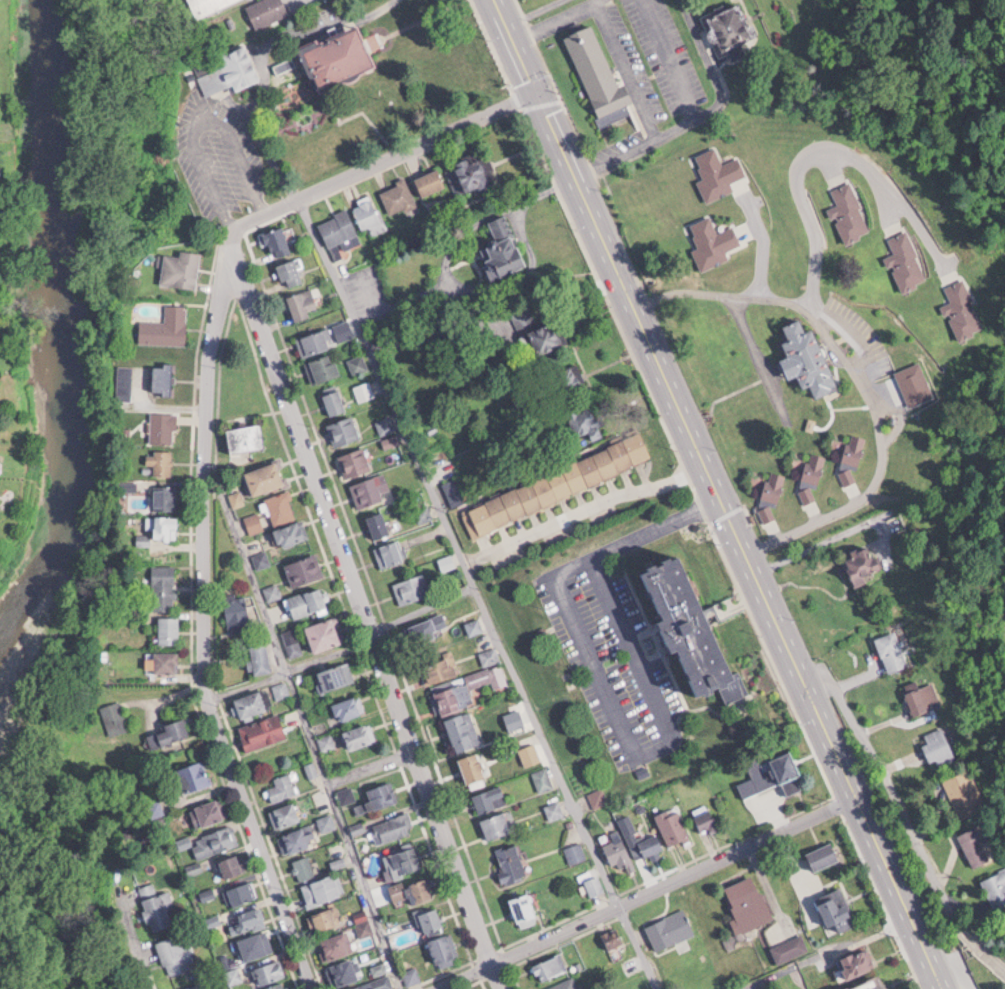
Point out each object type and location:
building: (207, 5)
building: (266, 10)
road: (556, 17)
road: (289, 24)
building: (729, 28)
road: (668, 56)
building: (340, 58)
building: (593, 65)
road: (624, 65)
building: (227, 69)
road: (203, 121)
road: (815, 151)
road: (620, 152)
road: (384, 158)
building: (470, 174)
building: (431, 181)
building: (398, 196)
building: (369, 213)
building: (730, 229)
building: (340, 232)
building: (276, 240)
road: (763, 241)
building: (503, 248)
building: (181, 268)
building: (291, 272)
building: (303, 304)
river: (66, 326)
building: (167, 326)
building: (541, 333)
building: (314, 343)
building: (809, 357)
building: (358, 363)
building: (323, 368)
road: (861, 372)
building: (164, 378)
building: (568, 380)
building: (910, 385)
building: (364, 390)
building: (335, 399)
building: (587, 422)
building: (385, 425)
building: (164, 426)
building: (344, 431)
building: (246, 437)
building: (391, 440)
building: (855, 449)
building: (161, 461)
building: (355, 462)
building: (815, 466)
building: (265, 478)
building: (557, 483)
building: (774, 484)
building: (459, 488)
building: (372, 490)
building: (166, 496)
road: (722, 496)
building: (281, 507)
road: (583, 509)
building: (254, 522)
building: (379, 524)
building: (164, 526)
building: (292, 533)
road: (818, 539)
building: (390, 553)
building: (261, 559)
building: (862, 563)
building: (305, 569)
building: (165, 586)
building: (412, 588)
building: (273, 590)
road: (476, 593)
building: (308, 602)
building: (237, 609)
road: (361, 609)
road: (205, 617)
building: (429, 624)
building: (169, 628)
building: (693, 630)
building: (324, 634)
building: (292, 641)
road: (341, 648)
building: (891, 651)
building: (490, 654)
building: (259, 656)
building: (166, 661)
building: (438, 668)
building: (335, 674)
building: (488, 675)
road: (607, 691)
building: (452, 696)
building: (923, 698)
building: (253, 702)
building: (349, 706)
road: (306, 726)
building: (263, 730)
building: (462, 730)
building: (168, 732)
building: (360, 734)
building: (938, 746)
building: (474, 767)
road: (370, 768)
building: (195, 775)
building: (774, 775)
road: (889, 775)
building: (543, 778)
building: (282, 786)
building: (963, 793)
building: (381, 794)
building: (597, 796)
building: (490, 798)
building: (554, 808)
building: (209, 810)
building: (285, 813)
building: (327, 818)
building: (706, 820)
building: (497, 823)
building: (673, 824)
building: (393, 825)
building: (298, 837)
building: (215, 840)
building: (647, 844)
building: (976, 844)
building: (576, 851)
building: (620, 852)
building: (823, 855)
building: (402, 859)
building: (512, 861)
building: (234, 863)
building: (304, 865)
building: (595, 883)
building: (996, 886)
building: (322, 888)
building: (413, 889)
building: (241, 892)
road: (642, 892)
building: (747, 903)
building: (157, 905)
building: (525, 908)
building: (836, 908)
building: (327, 916)
building: (250, 917)
building: (431, 917)
building: (365, 926)
building: (672, 926)
building: (613, 935)
building: (253, 944)
building: (335, 944)
road: (136, 946)
building: (790, 947)
building: (445, 948)
road: (827, 951)
building: (176, 952)
building: (857, 961)
road: (943, 962)
building: (550, 965)
building: (270, 969)
building: (343, 970)
building: (566, 983)
building: (868, 983)
building: (373, 984)
building: (277, 985)
building: (195, 986)

